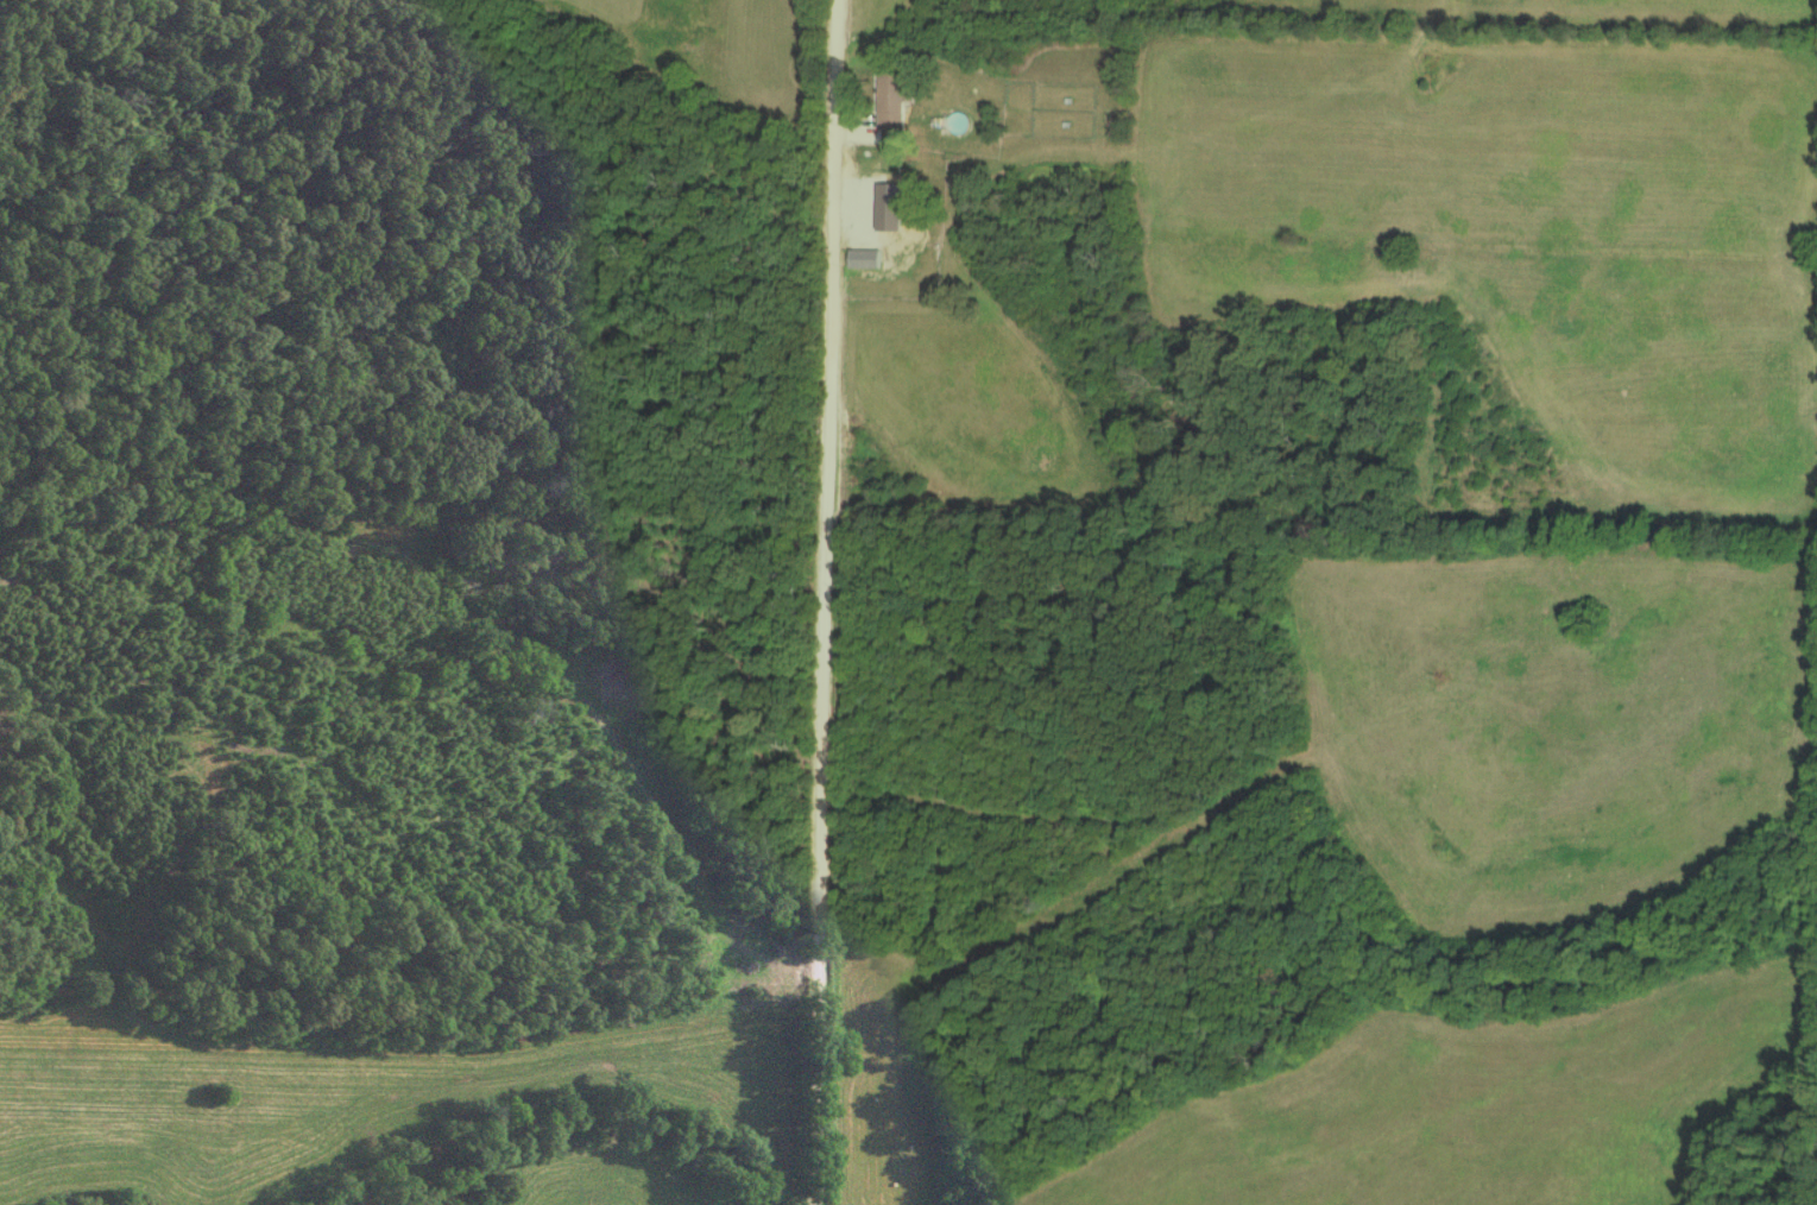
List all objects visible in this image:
building: (897, 100)
building: (883, 217)
road: (820, 601)

